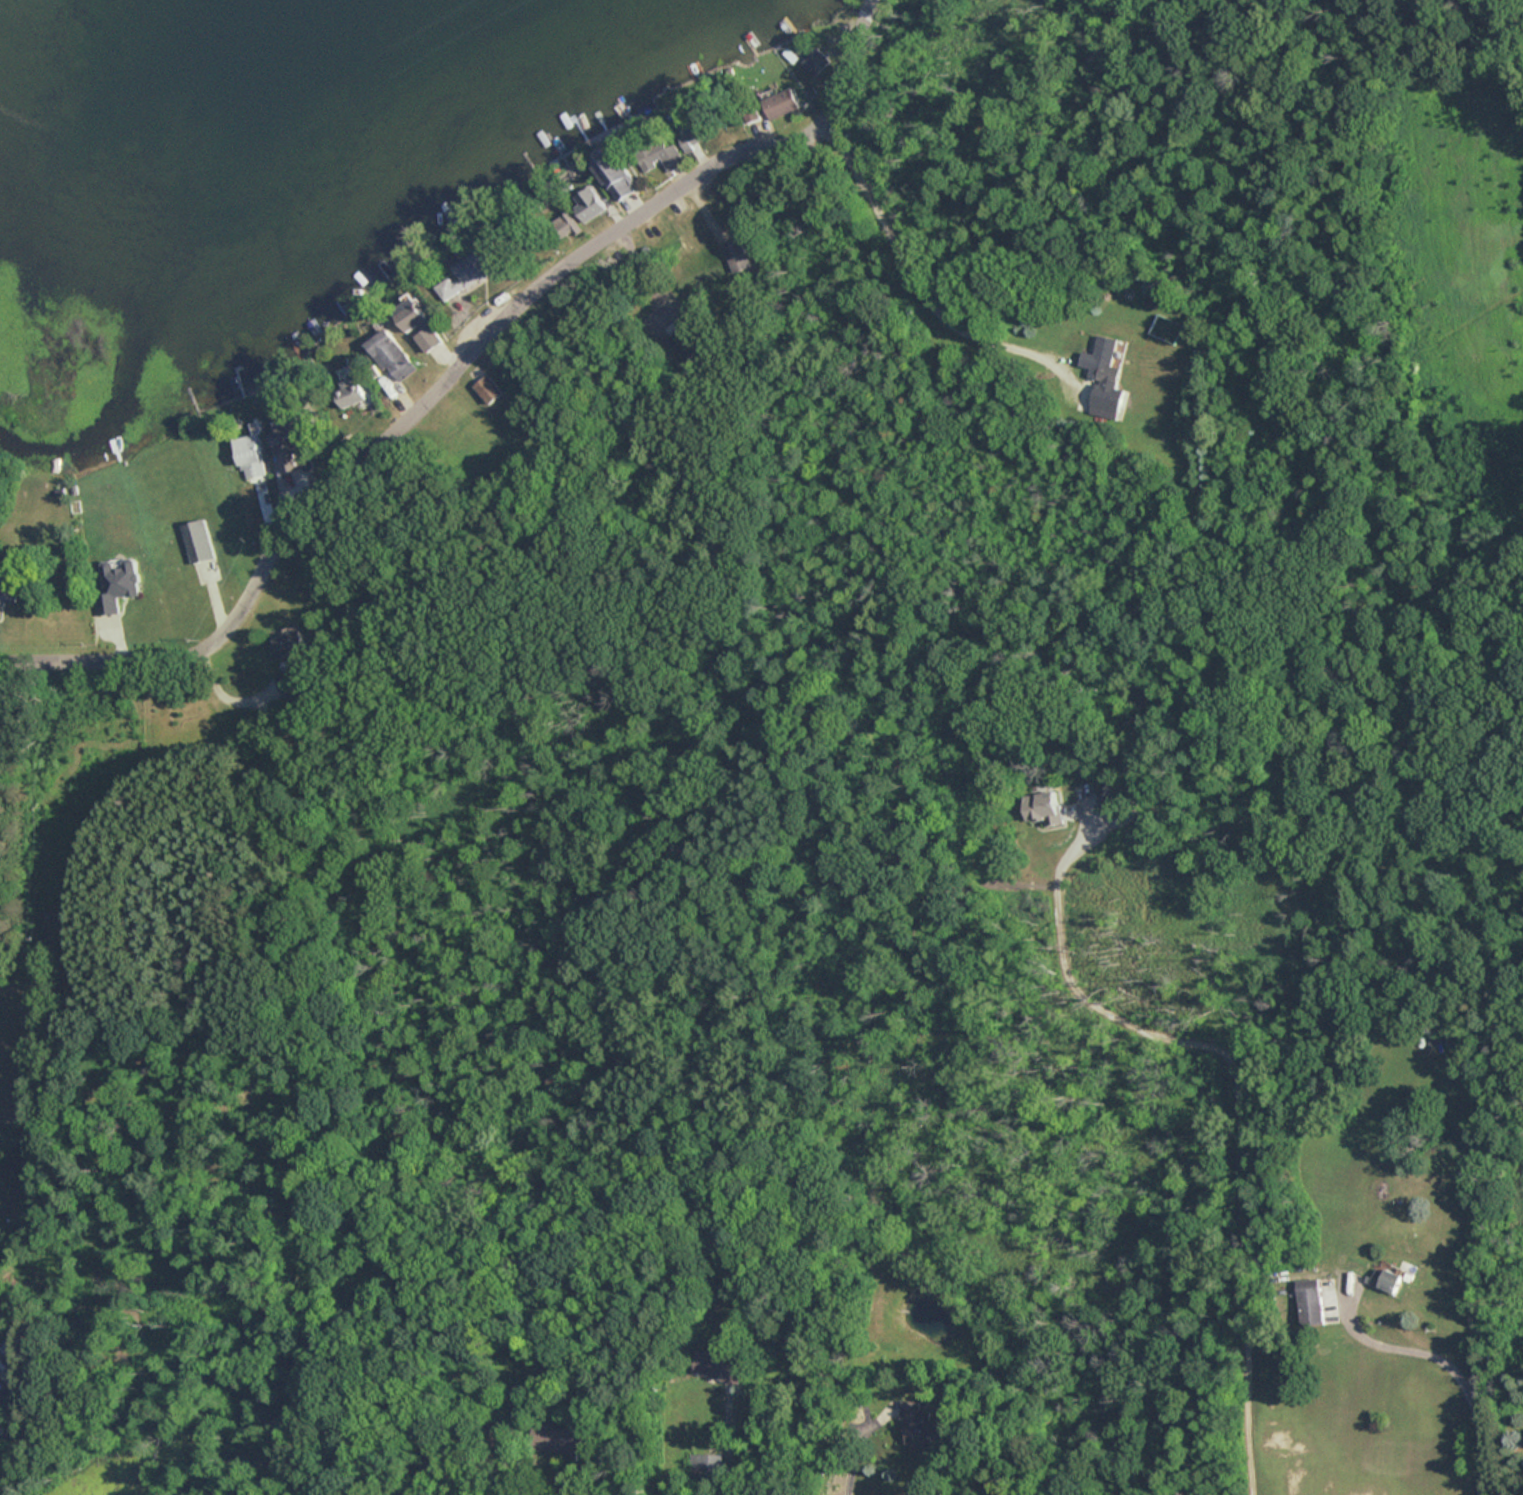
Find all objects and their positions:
building: (816, 62)
building: (782, 104)
building: (693, 141)
building: (663, 156)
building: (617, 175)
building: (591, 202)
building: (568, 221)
building: (735, 256)
building: (469, 276)
road: (910, 276)
building: (421, 325)
building: (677, 327)
building: (392, 354)
road: (453, 374)
building: (1101, 380)
building: (489, 390)
building: (350, 393)
building: (288, 440)
building: (249, 456)
building: (197, 540)
building: (117, 584)
building: (8, 585)
building: (288, 640)
building: (287, 682)
building: (1113, 802)
building: (1043, 807)
road: (1237, 1096)
building: (1385, 1279)
building: (1310, 1301)
road: (1447, 1365)
building: (716, 1366)
road: (8, 1395)
building: (922, 1426)
building: (554, 1437)
road: (857, 1437)

